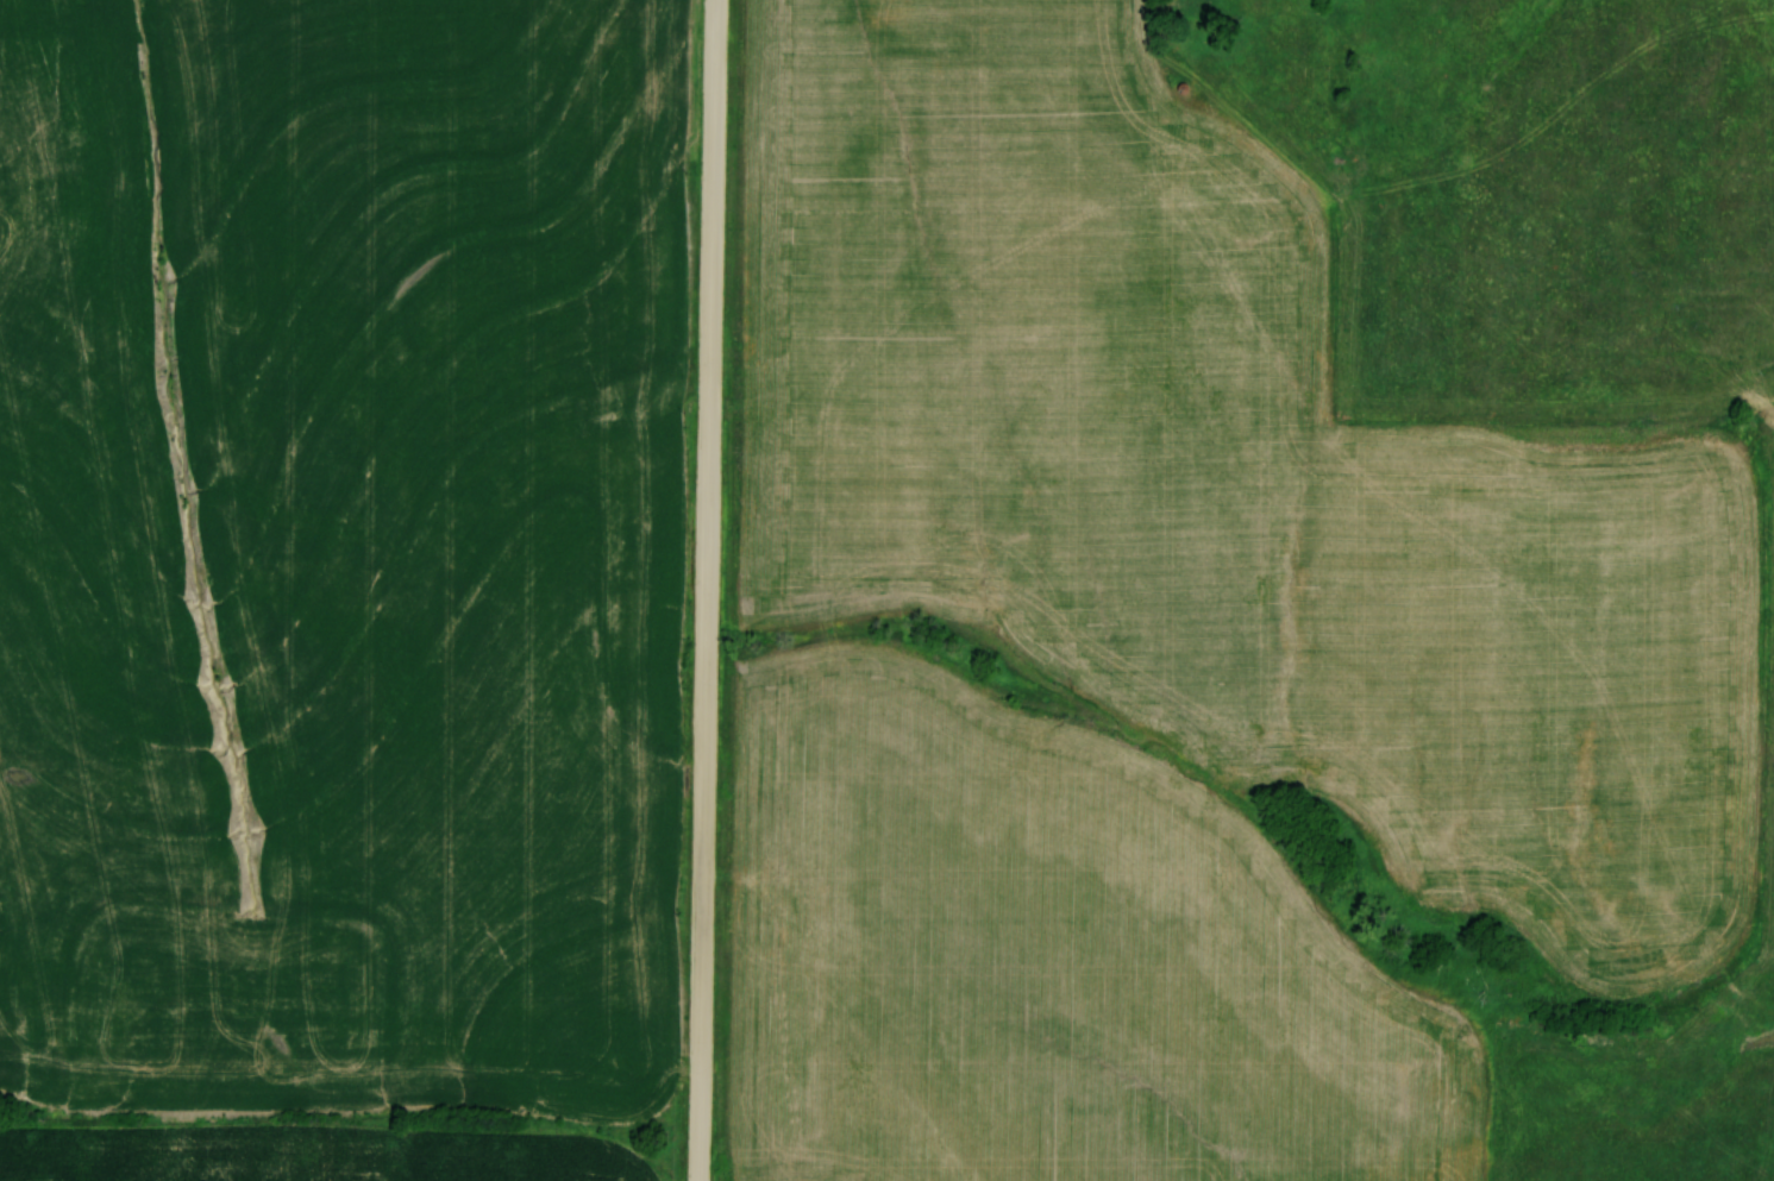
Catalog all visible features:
road: (702, 590)

